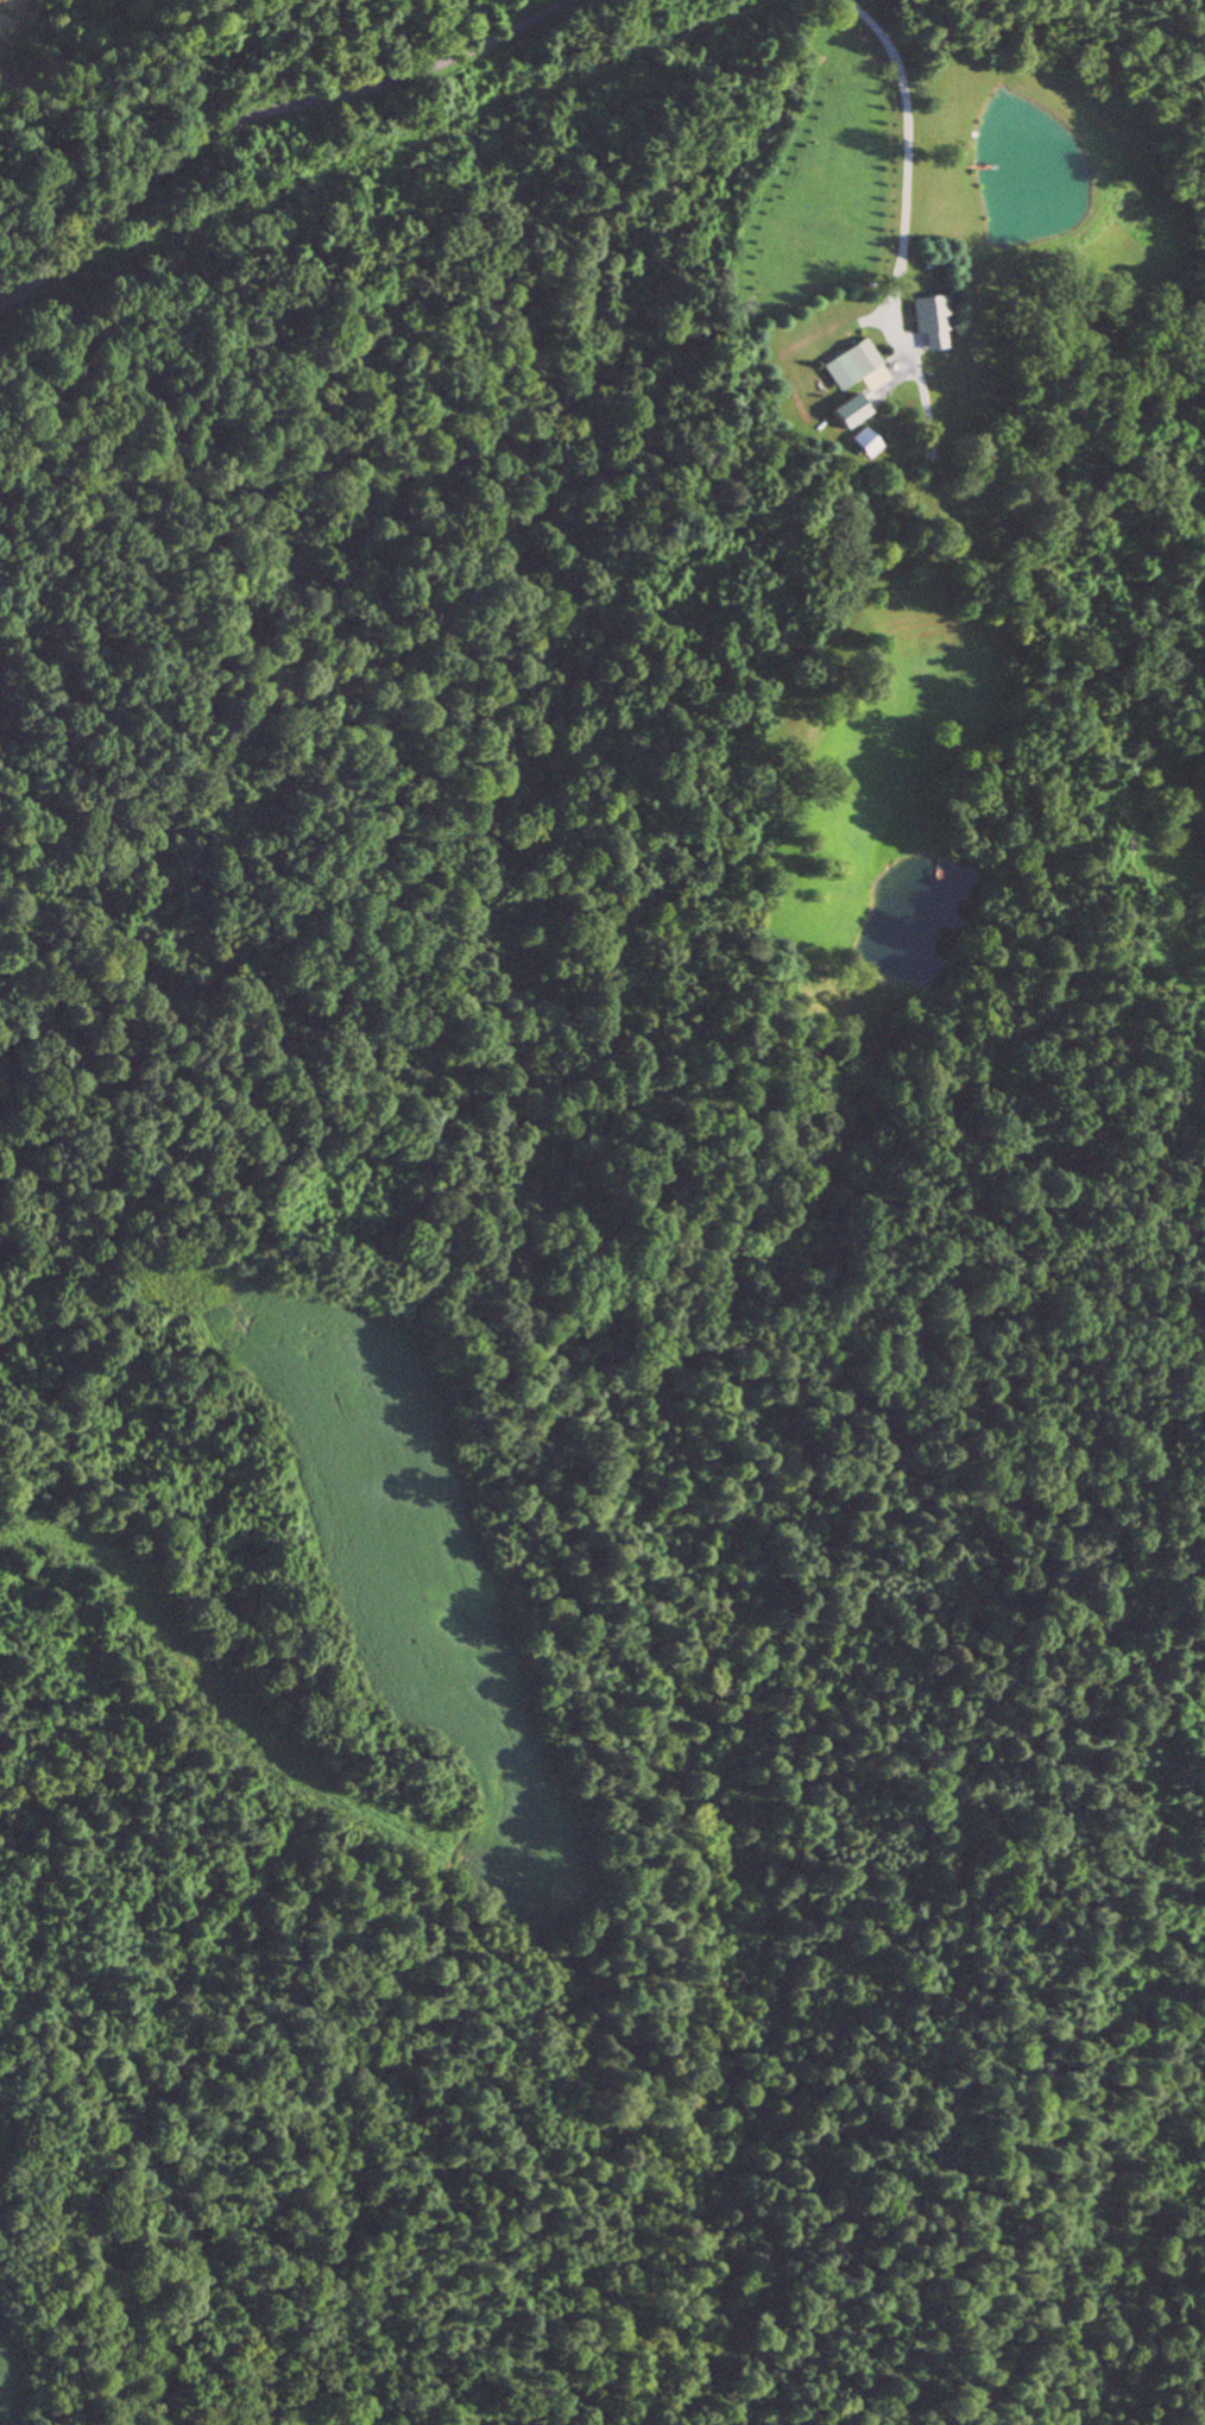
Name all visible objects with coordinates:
road: (264, 115)
road: (873, 320)
building: (929, 320)
building: (850, 365)
building: (853, 409)
building: (864, 445)

